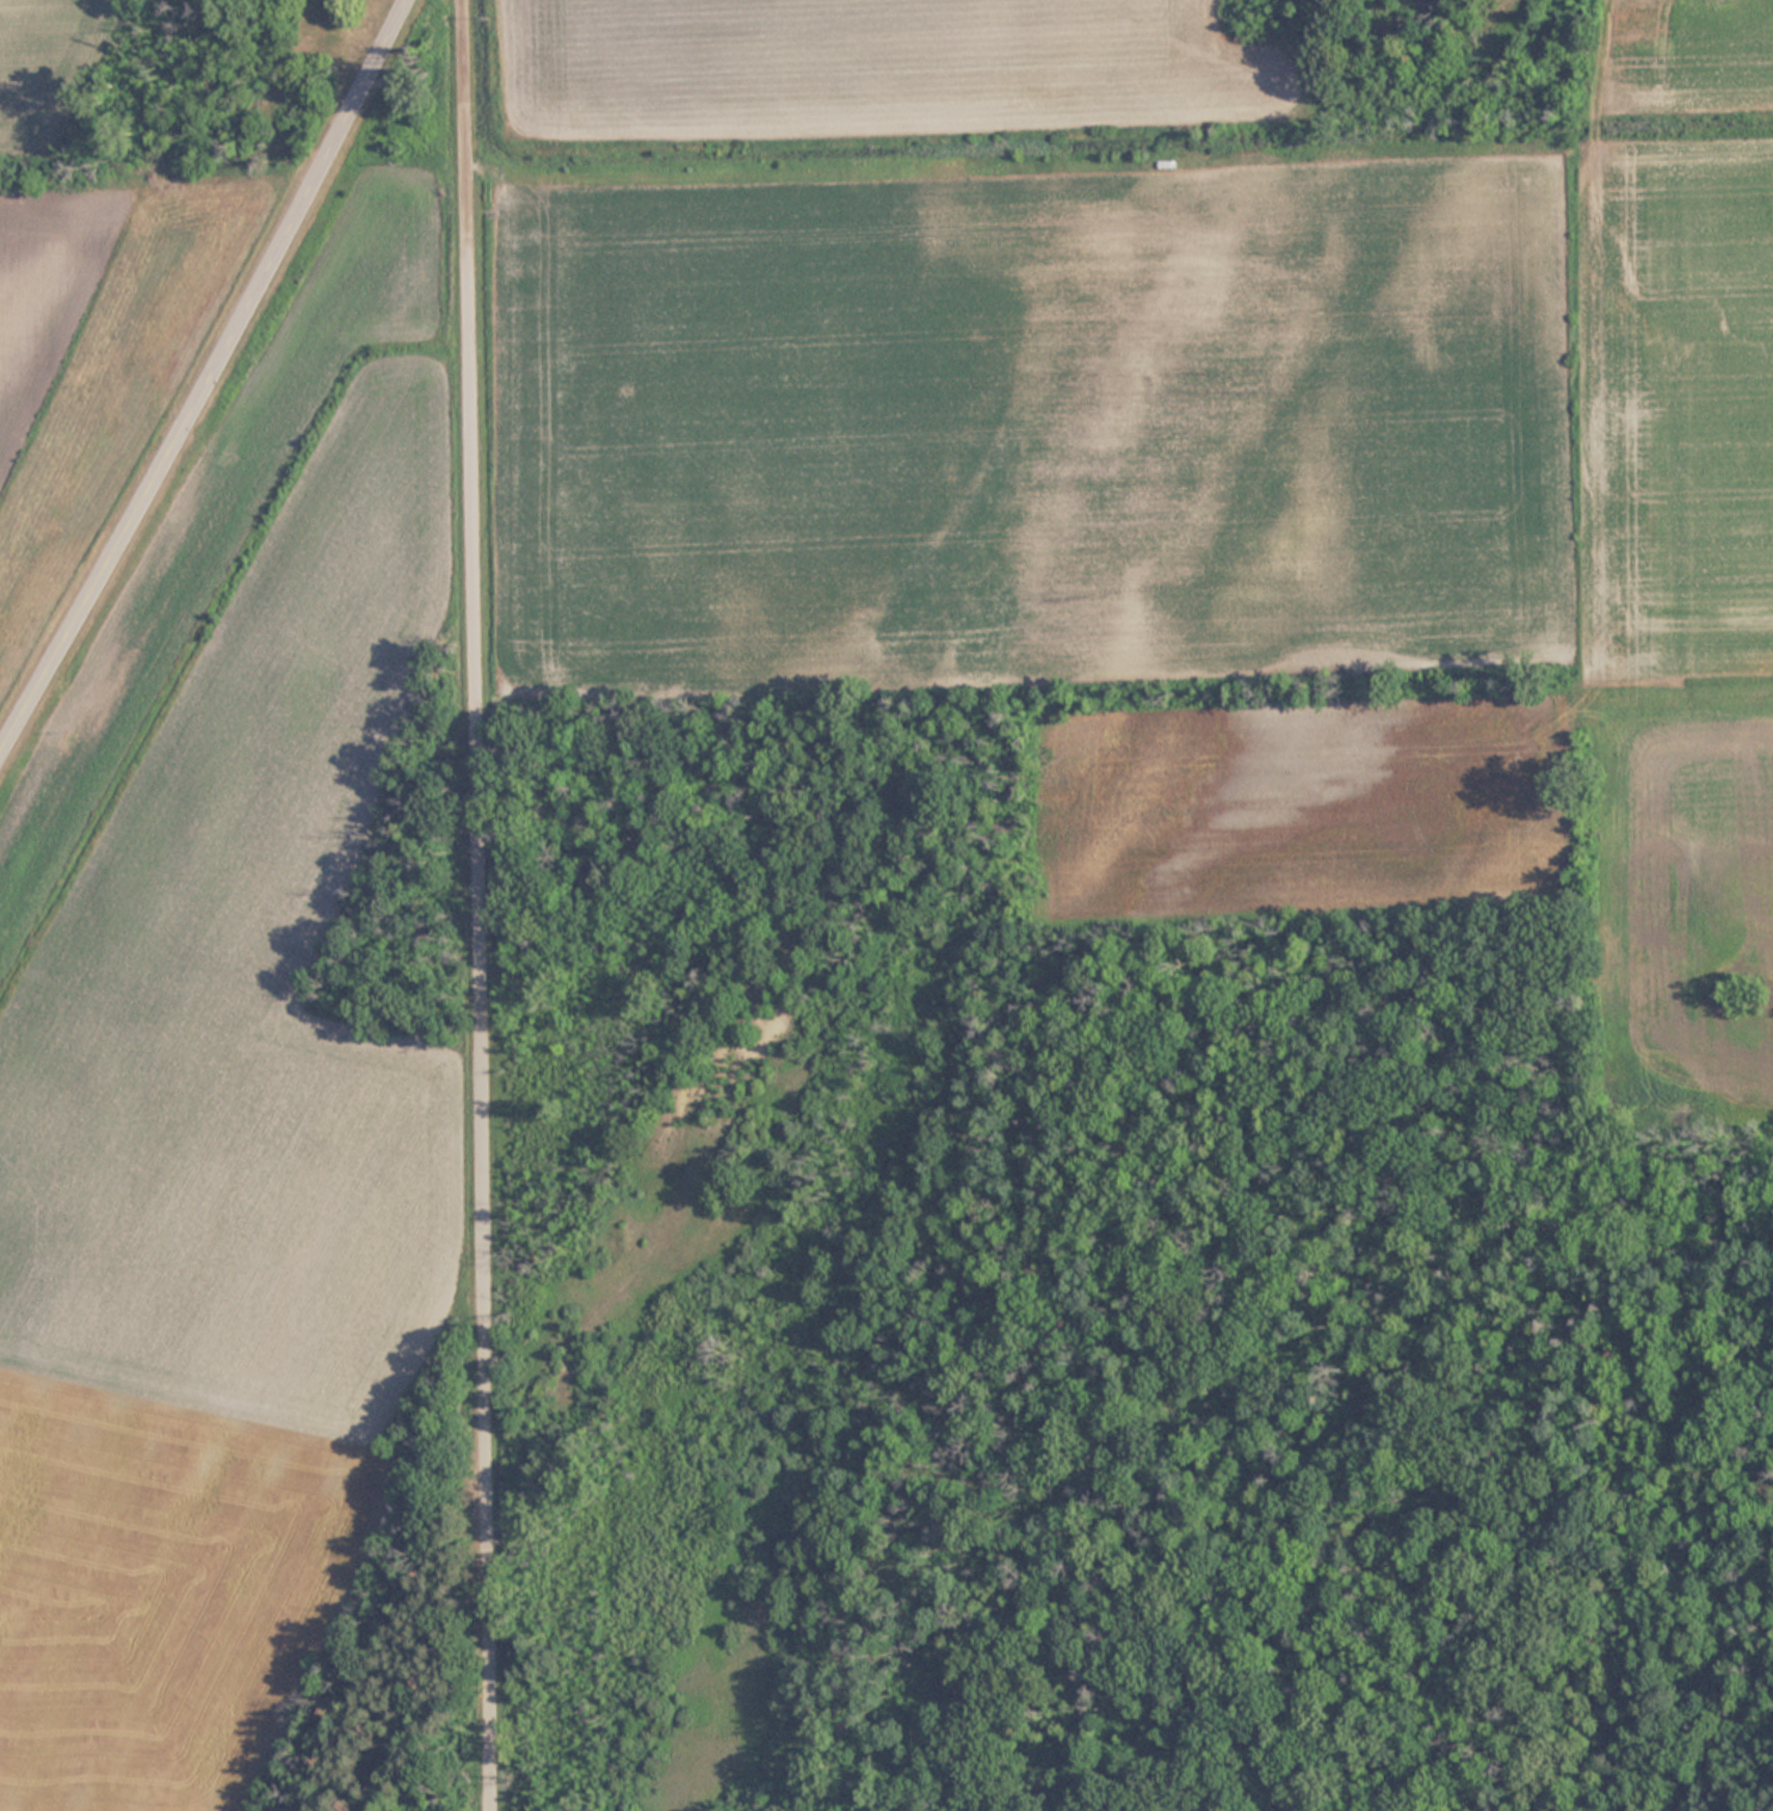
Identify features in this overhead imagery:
road: (212, 389)
road: (482, 905)

